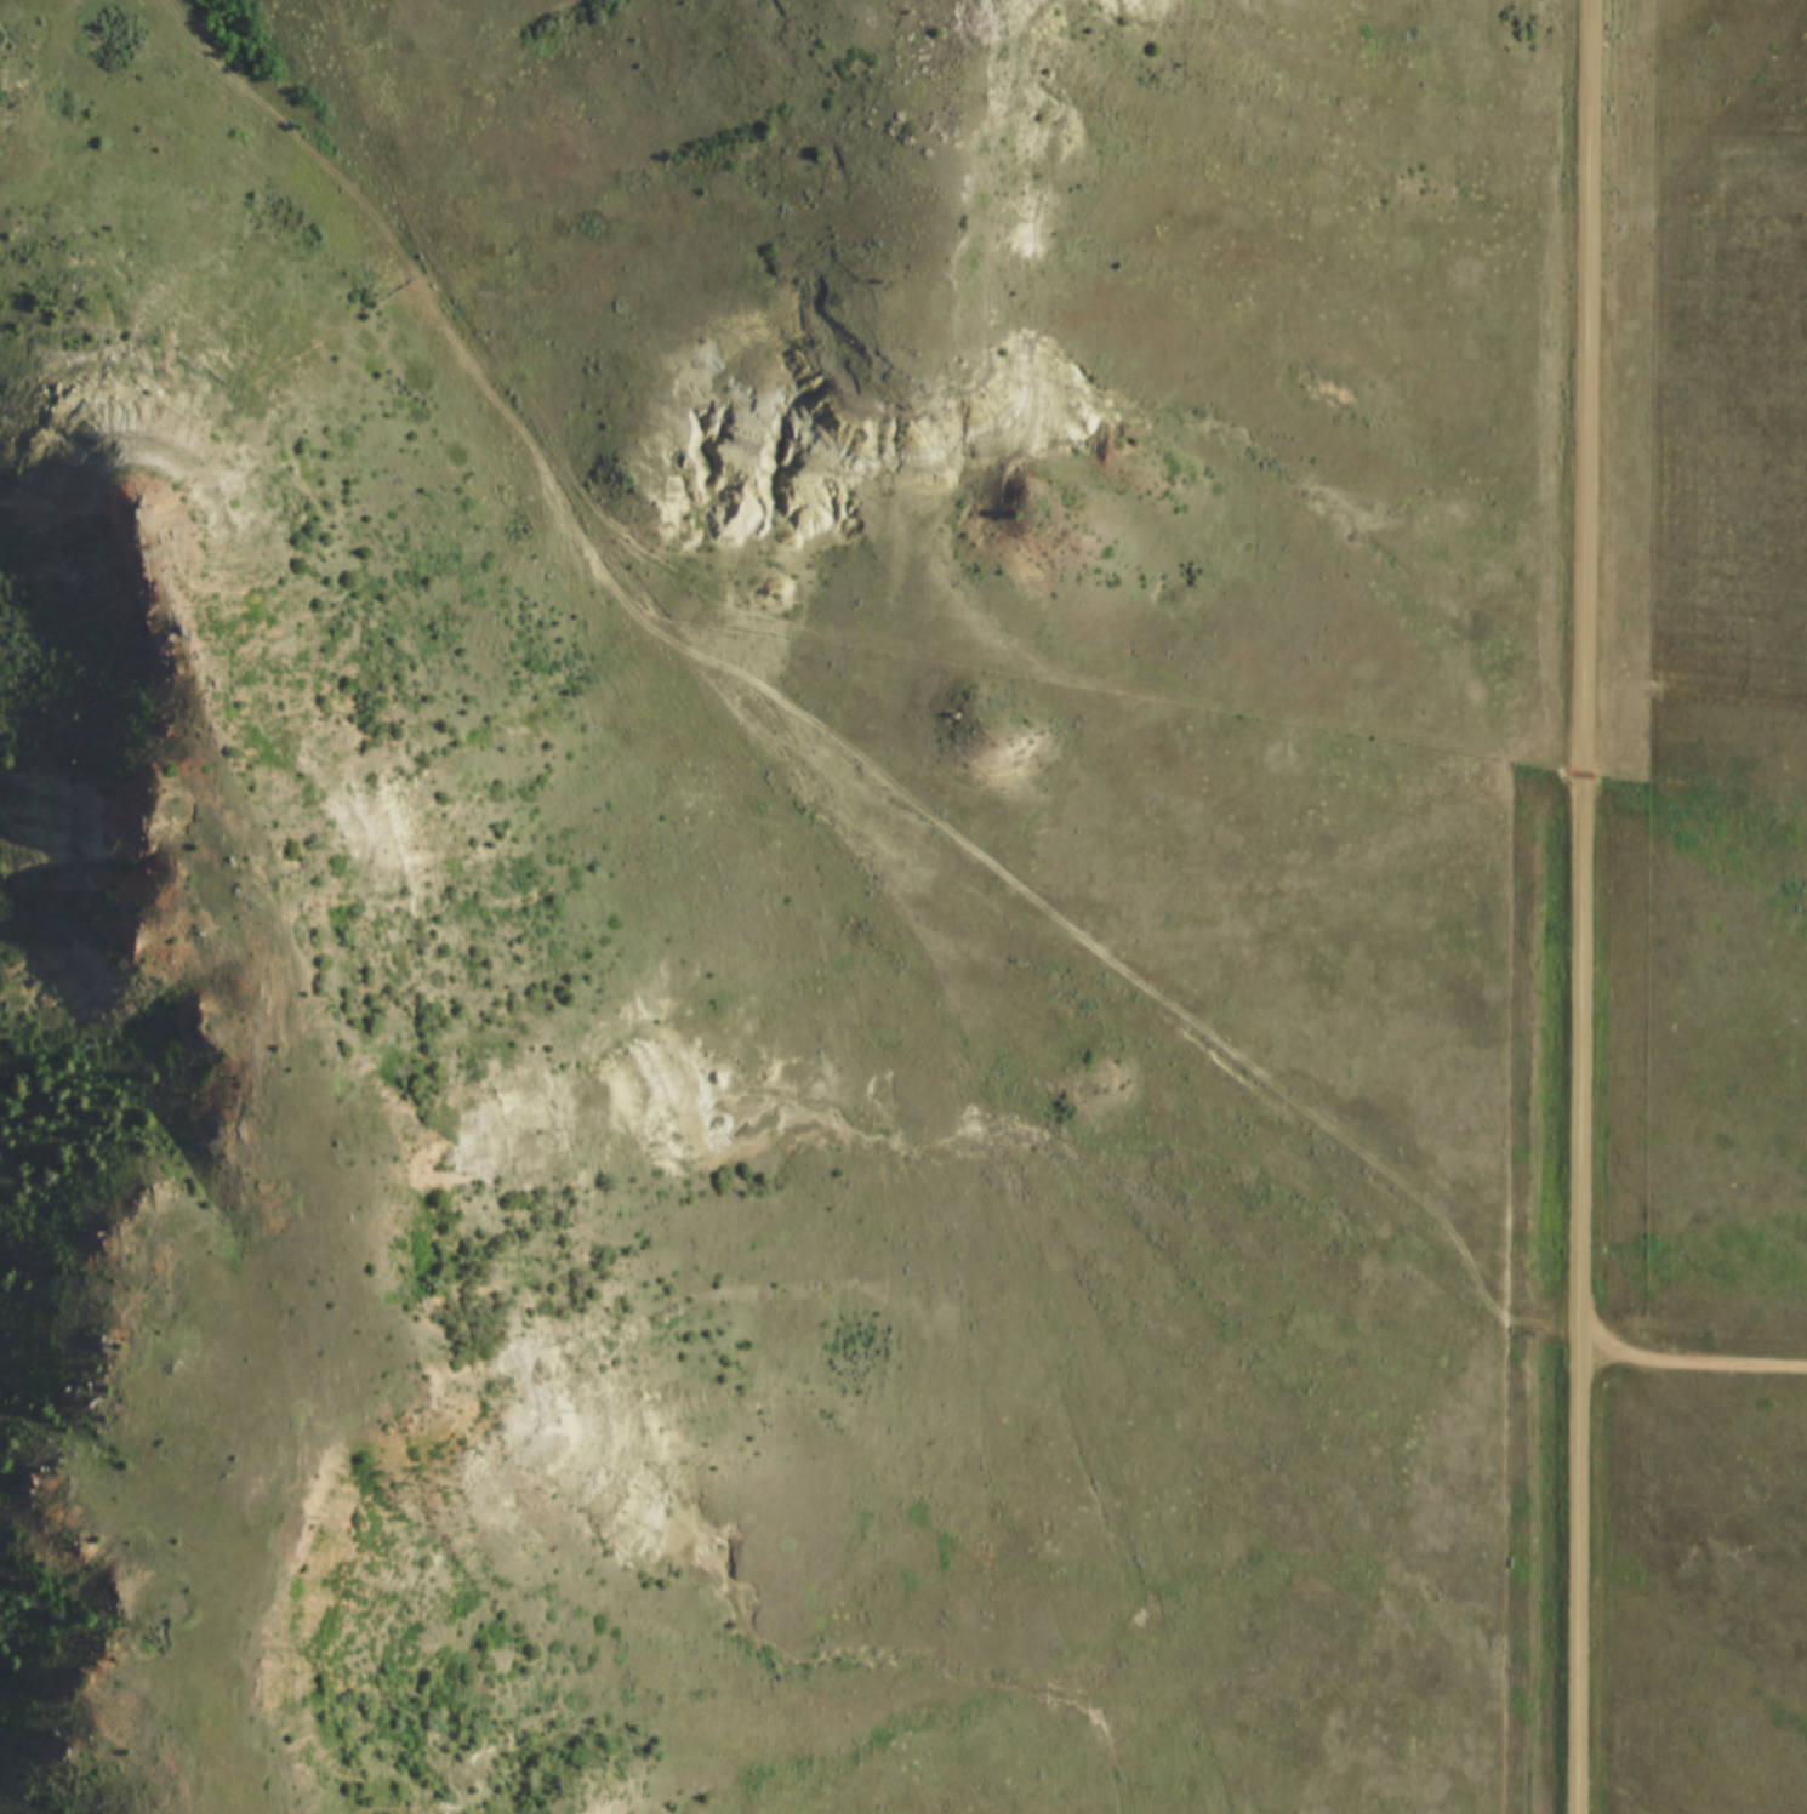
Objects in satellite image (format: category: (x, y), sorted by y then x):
road: (1583, 907)
road: (1689, 1369)

